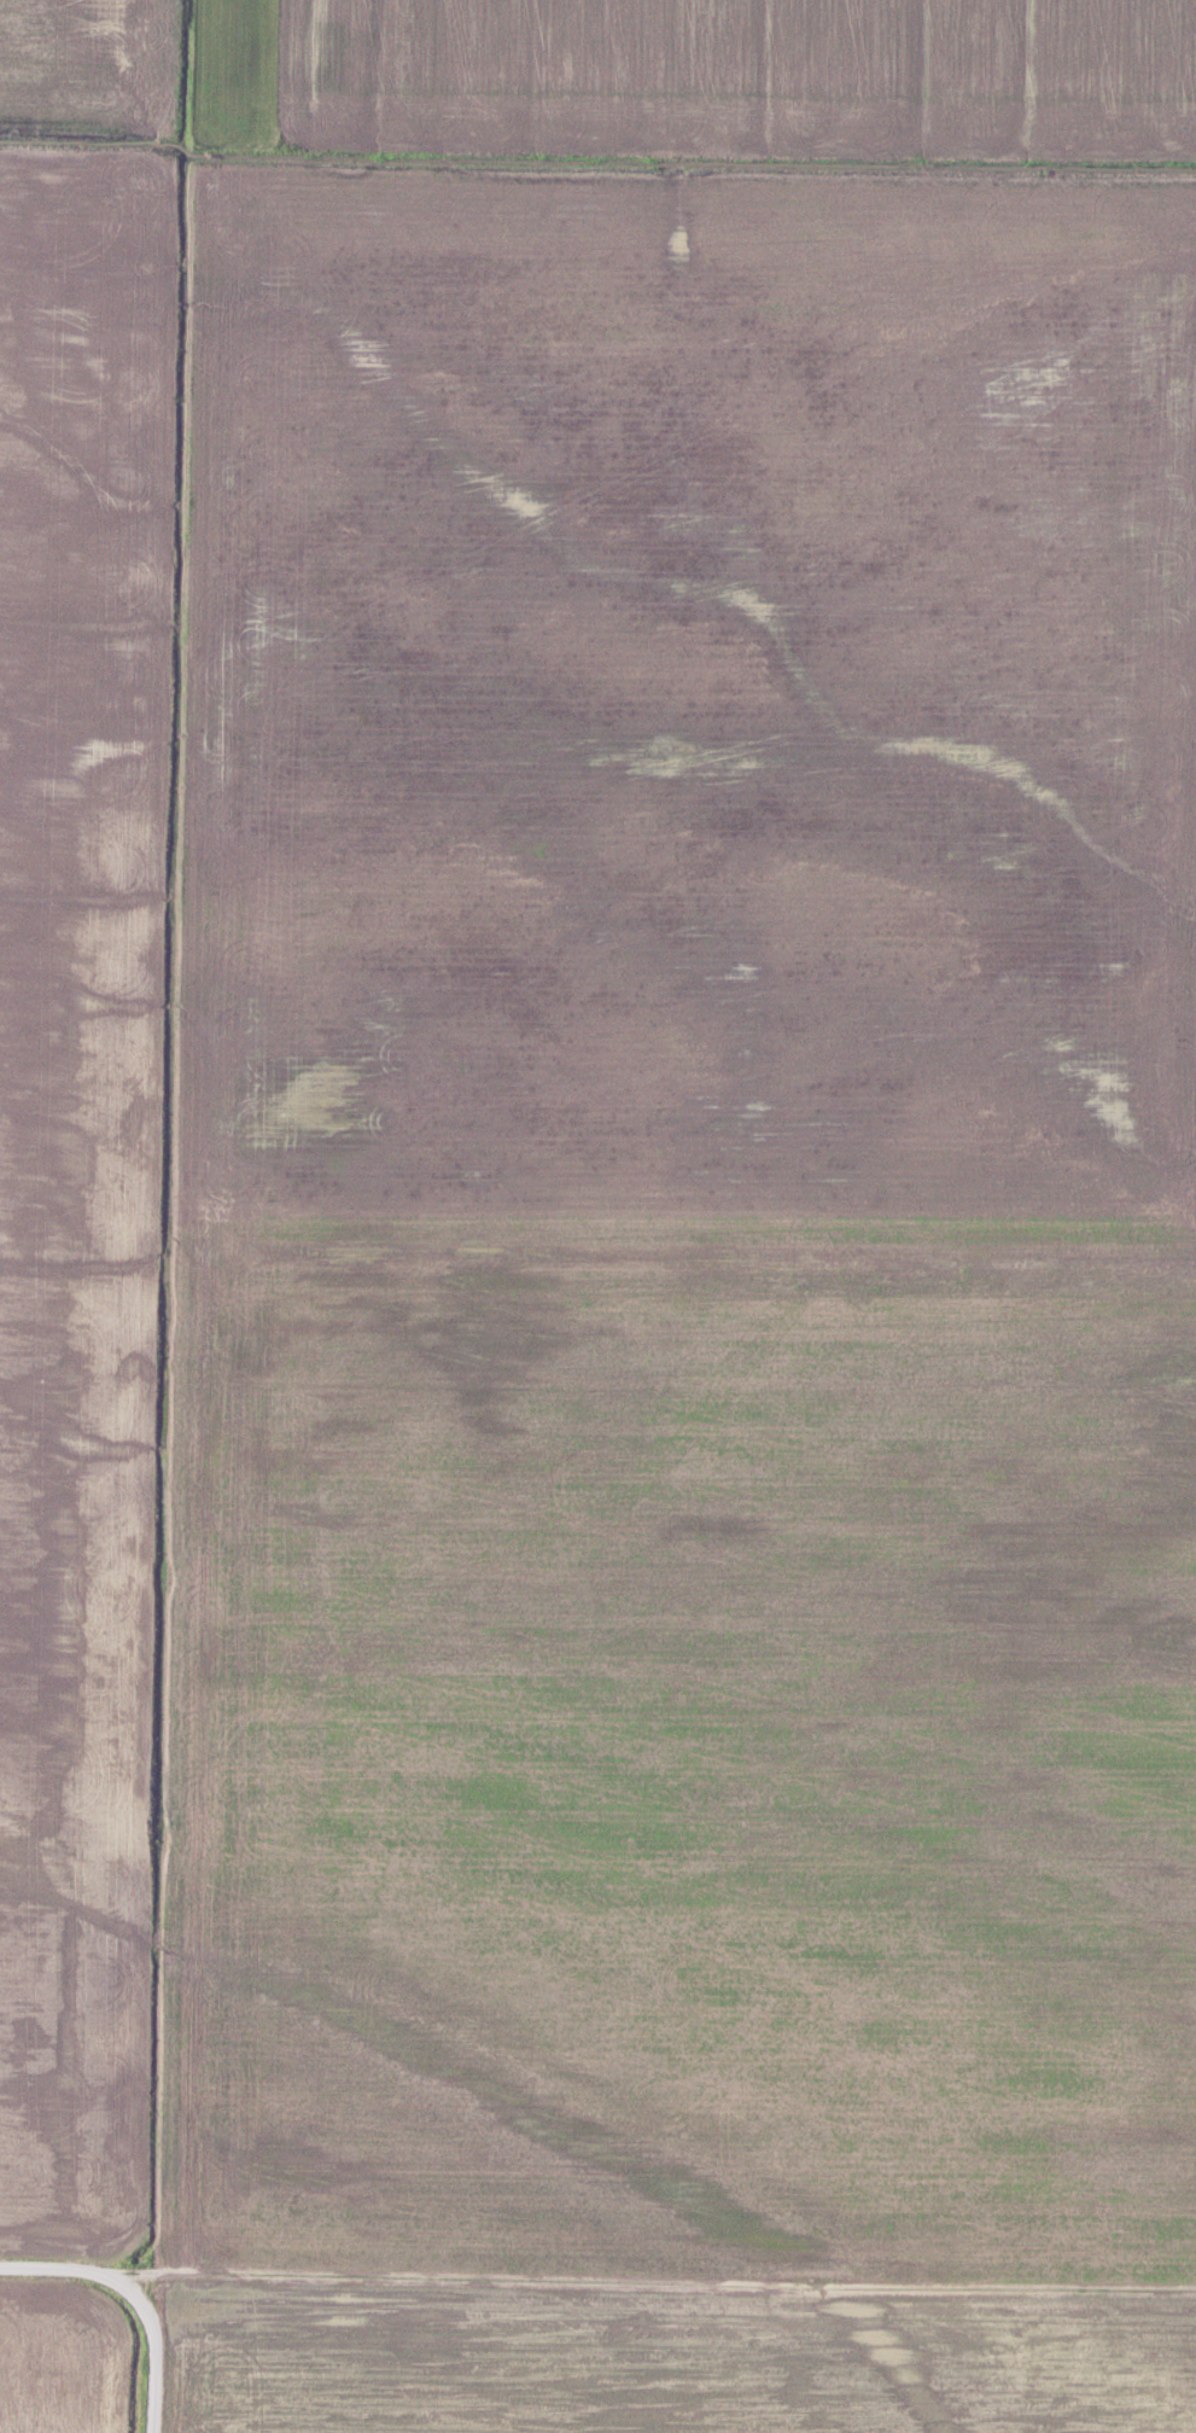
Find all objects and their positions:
road: (135, 2294)

